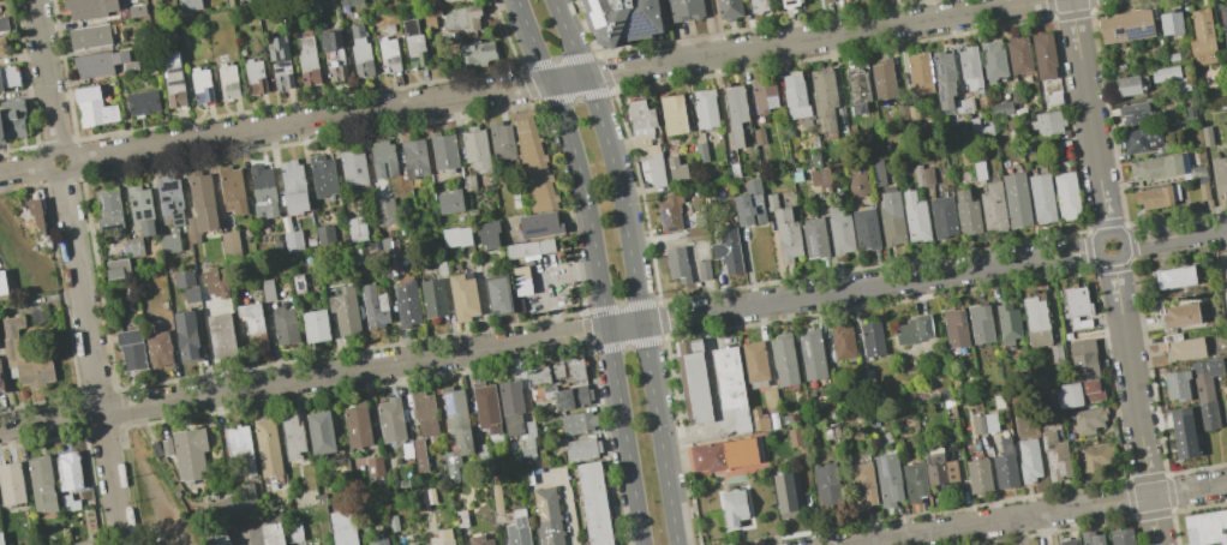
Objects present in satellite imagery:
building: (448, 0)
building: (827, 0)
building: (351, 1)
building: (789, 2)
building: (758, 6)
building: (89, 8)
building: (684, 8)
building: (728, 8)
building: (136, 10)
building: (430, 18)
building: (462, 18)
rooftop solar panel: (638, 18)
building: (621, 19)
building: (1169, 22)
building: (2, 23)
building: (1223, 23)
building: (1125, 25)
rooftop solar panel: (1138, 34)
building: (89, 36)
building: (1202, 37)
building: (413, 42)
building: (2, 46)
building: (360, 52)
building: (333, 53)
building: (387, 53)
building: (475, 53)
building: (1017, 54)
building: (1043, 54)
building: (1173, 56)
rooftop solar panel: (285, 60)
building: (993, 60)
building: (307, 61)
building: (97, 62)
building: (280, 62)
rooftop solar panel: (938, 66)
building: (130, 67)
rooftop solar panel: (280, 67)
building: (969, 67)
road: (44, 72)
building: (918, 73)
building: (1165, 73)
building: (8, 77)
building: (255, 77)
building: (882, 78)
building: (944, 78)
building: (173, 79)
road: (559, 79)
building: (227, 80)
building: (200, 84)
building: (1130, 84)
building: (1181, 84)
building: (856, 85)
building: (1226, 89)
rooftop solar panel: (940, 91)
building: (764, 95)
building: (1017, 96)
building: (795, 97)
building: (824, 97)
building: (1053, 98)
building: (142, 102)
building: (968, 106)
building: (92, 107)
building: (705, 107)
building: (902, 109)
building: (1001, 109)
building: (1190, 110)
building: (912, 112)
building: (735, 113)
building: (1135, 113)
building: (672, 114)
road: (1089, 116)
building: (11, 119)
building: (523, 120)
building: (1047, 124)
building: (851, 128)
building: (978, 128)
building: (759, 136)
building: (1205, 136)
building: (645, 138)
building: (1141, 138)
building: (501, 140)
building: (475, 148)
building: (1054, 148)
building: (443, 151)
building: (701, 152)
building: (963, 155)
building: (382, 158)
building: (414, 158)
building: (814, 158)
building: (977, 164)
road: (20, 167)
building: (353, 167)
building: (1155, 167)
building: (675, 168)
rooftop solar panel: (358, 169)
building: (734, 169)
building: (1197, 170)
building: (535, 172)
building: (878, 173)
building: (917, 174)
building: (1220, 174)
road: (60, 175)
building: (322, 175)
building: (927, 175)
building: (813, 178)
building: (822, 179)
building: (857, 181)
building: (468, 182)
building: (293, 186)
building: (232, 190)
building: (1203, 190)
building: (262, 191)
building: (1175, 191)
building: (514, 194)
building: (1066, 196)
building: (1154, 196)
building: (408, 198)
building: (1041, 198)
building: (1016, 199)
building: (450, 202)
building: (696, 202)
building: (515, 203)
building: (748, 204)
building: (199, 205)
building: (993, 206)
building: (108, 209)
building: (140, 209)
building: (169, 210)
building: (670, 211)
building: (35, 212)
building: (384, 212)
building: (965, 212)
rooftop solar panel: (138, 214)
rooftop solar panel: (144, 214)
building: (942, 216)
building: (915, 217)
building: (891, 218)
building: (539, 224)
building: (354, 226)
building: (864, 228)
building: (784, 229)
building: (696, 230)
building: (839, 230)
building: (486, 233)
road: (1175, 235)
building: (325, 236)
building: (455, 236)
building: (814, 236)
building: (293, 240)
building: (372, 245)
building: (136, 246)
building: (231, 246)
building: (279, 246)
building: (726, 246)
building: (125, 247)
building: (528, 247)
building: (387, 256)
road: (1113, 259)
building: (677, 264)
building: (439, 265)
building: (116, 268)
road: (598, 268)
road: (633, 268)
building: (702, 270)
building: (1174, 276)
building: (182, 279)
building: (1225, 279)
road: (547, 280)
building: (215, 282)
building: (2, 283)
building: (298, 283)
building: (522, 286)
building: (268, 289)
road: (79, 292)
building: (191, 294)
building: (497, 294)
building: (462, 297)
building: (432, 298)
building: (407, 304)
building: (371, 306)
building: (1076, 306)
building: (345, 311)
building: (1180, 315)
building: (1035, 321)
building: (980, 323)
building: (1007, 323)
building: (253, 324)
building: (285, 325)
building: (315, 325)
building: (914, 329)
building: (954, 329)
building: (221, 335)
building: (187, 336)
road: (549, 337)
building: (870, 339)
building: (842, 341)
rooftop solar panel: (803, 342)
building: (12, 347)
building: (1183, 347)
building: (157, 348)
building: (130, 349)
building: (1055, 353)
rooftop solar panel: (807, 354)
building: (810, 354)
building: (783, 359)
building: (1083, 359)
building: (755, 361)
building: (575, 367)
building: (556, 371)
building: (537, 375)
building: (692, 381)
building: (1, 383)
building: (731, 385)
building: (1177, 385)
building: (1205, 390)
building: (544, 391)
building: (1090, 391)
building: (1069, 395)
building: (573, 396)
building: (770, 399)
building: (998, 401)
road: (1135, 401)
rooftop solar panel: (449, 403)
building: (511, 406)
building: (486, 411)
building: (950, 411)
building: (424, 413)
building: (456, 418)
building: (389, 419)
building: (1088, 419)
building: (759, 420)
building: (989, 421)
building: (577, 423)
building: (357, 425)
building: (977, 425)
building: (529, 430)
building: (319, 431)
building: (1183, 432)
building: (293, 436)
building: (267, 437)
building: (794, 437)
rooftop solar panel: (1043, 442)
building: (240, 445)
building: (155, 448)
building: (167, 448)
building: (581, 449)
building: (406, 450)
building: (481, 451)
building: (188, 453)
building: (723, 454)
building: (419, 455)
building: (1054, 455)
building: (1094, 456)
building: (1029, 460)
building: (451, 463)
rooftop solar panel: (884, 463)
building: (1004, 465)
rooftop solar panel: (1052, 466)
building: (375, 468)
rooftop solar panel: (1060, 468)
building: (68, 471)
building: (941, 472)
building: (977, 475)
road: (109, 478)
building: (887, 479)
building: (914, 481)
building: (11, 484)
building: (41, 484)
building: (862, 485)
building: (827, 487)
building: (788, 493)
building: (496, 498)
building: (423, 499)
building: (235, 502)
building: (68, 503)
building: (593, 503)
building: (732, 505)
road: (1043, 514)
building: (547, 516)
building: (460, 517)
building: (393, 523)
building: (342, 527)
building: (1205, 527)
building: (517, 528)
building: (294, 532)
building: (271, 534)
road: (258, 535)
building: (1120, 537)
building: (442, 538)
building: (1090, 538)
building: (1, 539)
building: (219, 539)
building: (376, 540)
building: (479, 540)
building: (1069, 541)
building: (411, 544)

